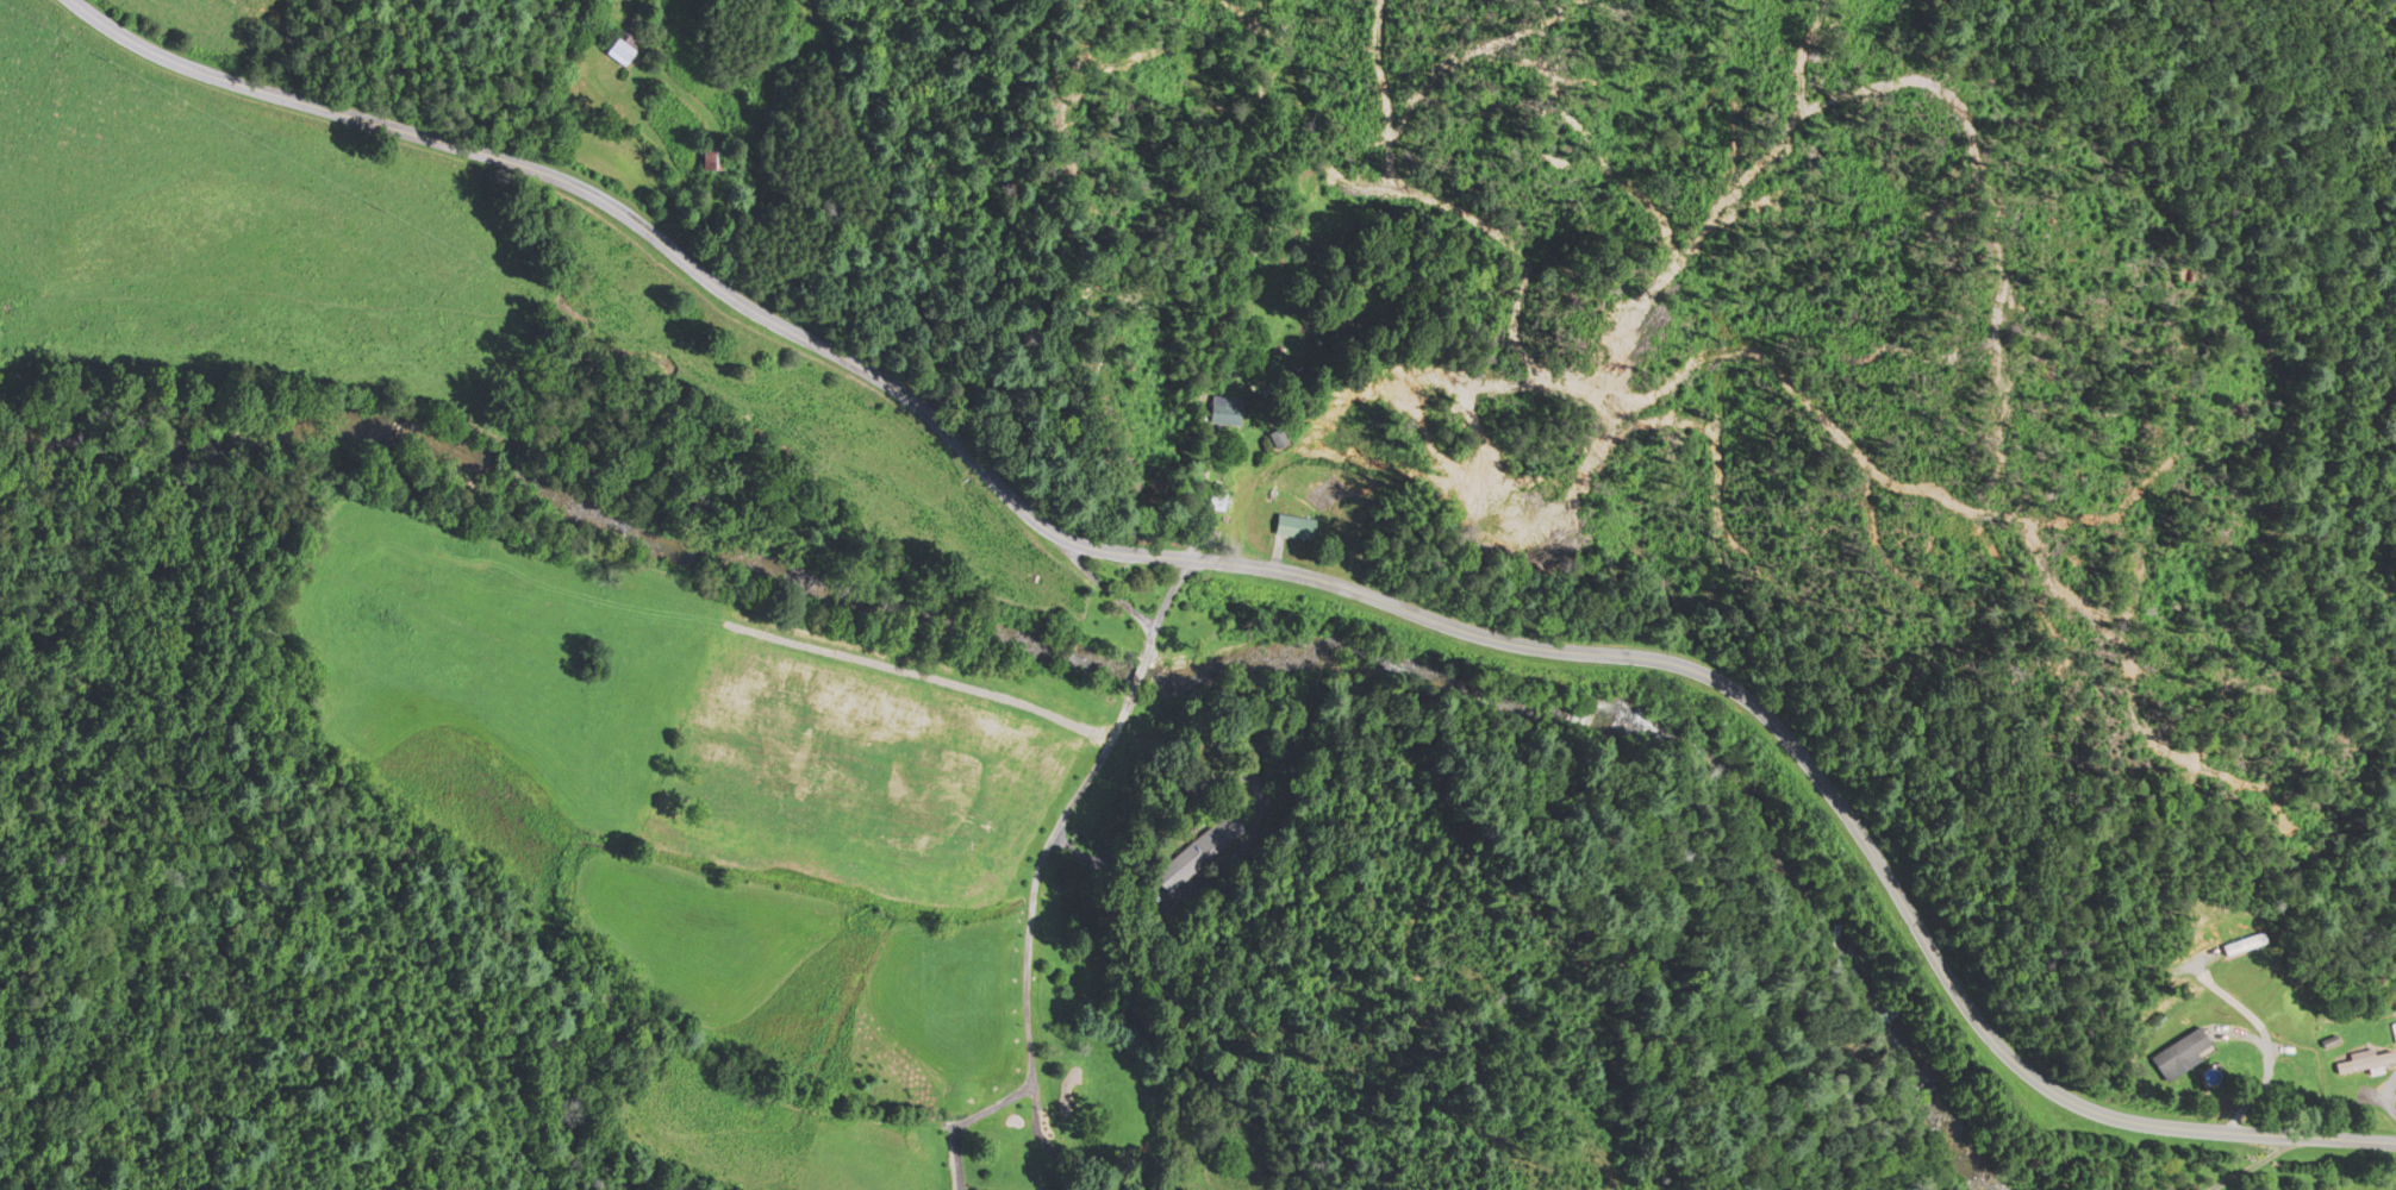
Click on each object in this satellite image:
building: (618, 49)
building: (711, 159)
building: (1222, 415)
building: (1293, 527)
road: (1266, 568)
road: (1169, 590)
road: (1048, 832)
building: (1196, 853)
building: (2391, 1033)
building: (2175, 1053)
building: (2357, 1064)
road: (2252, 1164)
building: (2391, 1188)

